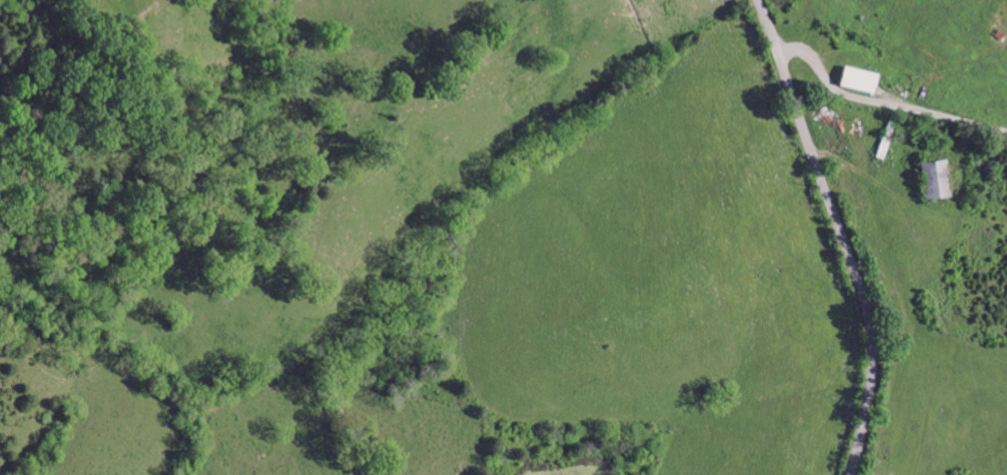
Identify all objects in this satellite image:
building: (906, 62)
road: (883, 102)
building: (984, 162)
road: (842, 233)

